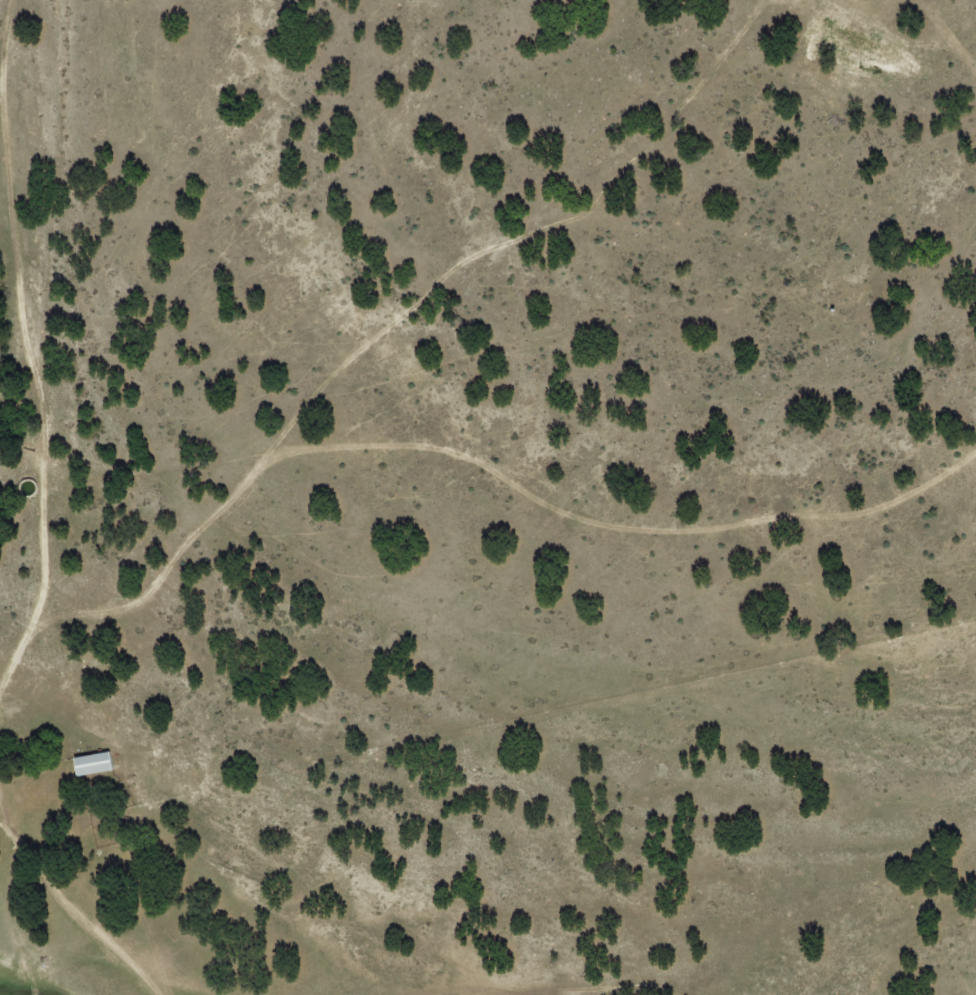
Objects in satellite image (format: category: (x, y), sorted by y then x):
building: (85, 762)
road: (75, 911)

